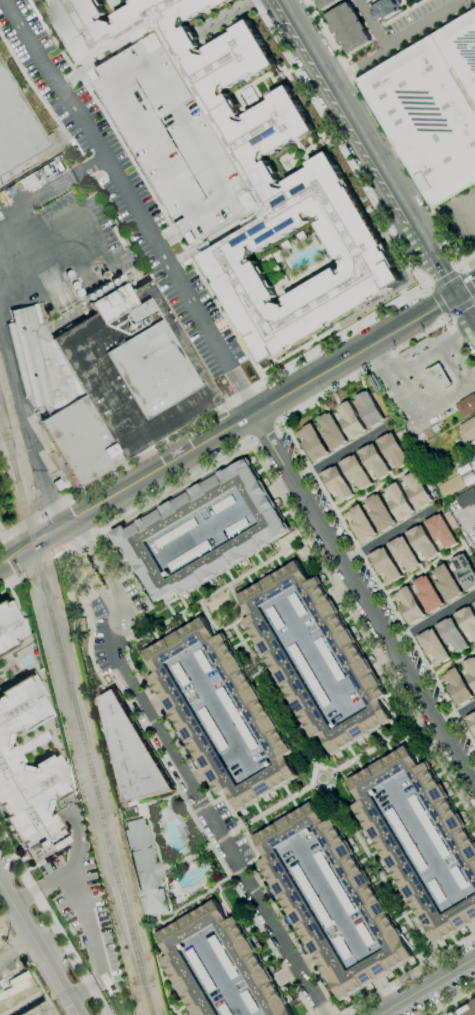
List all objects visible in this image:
building: (374, 0)
building: (217, 1)
building: (368, 1)
road: (263, 3)
building: (326, 3)
road: (286, 4)
road: (404, 5)
building: (384, 9)
road: (398, 14)
road: (370, 24)
building: (349, 28)
road: (326, 37)
road: (398, 40)
road: (34, 90)
building: (431, 108)
road: (352, 114)
building: (16, 127)
building: (177, 135)
parking garage: (177, 135)
road: (346, 145)
road: (408, 174)
building: (257, 176)
road: (49, 184)
road: (148, 190)
road: (131, 205)
road: (466, 213)
road: (435, 257)
road: (7, 265)
road: (460, 266)
road: (443, 278)
road: (466, 284)
silo: (104, 285)
road: (425, 286)
road: (465, 286)
traffic signals: (457, 293)
road: (443, 297)
road: (437, 301)
traffic signals: (446, 301)
road: (460, 307)
road: (465, 308)
road: (445, 319)
road: (457, 320)
road: (352, 328)
road: (461, 333)
road: (470, 347)
road: (433, 348)
road: (384, 357)
road: (449, 366)
building: (439, 375)
building: (109, 378)
gas station: (428, 385)
road: (18, 391)
road: (417, 392)
building: (466, 406)
building: (369, 409)
road: (254, 413)
building: (351, 420)
building: (468, 429)
road: (261, 430)
building: (331, 431)
railway: (8, 439)
road: (249, 440)
building: (312, 442)
railway: (8, 448)
building: (393, 449)
building: (457, 451)
flagpole: (108, 452)
road: (338, 455)
building: (374, 461)
road: (194, 469)
building: (355, 472)
building: (337, 484)
road: (279, 486)
building: (452, 486)
road: (373, 491)
building: (417, 491)
road: (50, 498)
building: (467, 498)
road: (259, 499)
building: (399, 502)
building: (225, 505)
road: (143, 506)
building: (380, 512)
road: (468, 518)
building: (361, 523)
building: (238, 527)
road: (206, 530)
building: (138, 531)
building: (441, 531)
road: (2, 532)
building: (177, 534)
road: (387, 536)
building: (422, 542)
road: (35, 545)
road: (12, 546)
building: (403, 553)
building: (190, 556)
road: (9, 560)
building: (385, 565)
road: (100, 570)
road: (421, 570)
building: (464, 572)
road: (19, 578)
road: (89, 579)
building: (447, 583)
road: (377, 584)
road: (338, 585)
road: (10, 592)
road: (215, 593)
building: (428, 594)
road: (363, 600)
building: (474, 604)
building: (408, 605)
building: (298, 606)
building: (277, 618)
road: (432, 620)
building: (467, 621)
building: (79, 624)
road: (230, 624)
building: (8, 625)
road: (362, 631)
building: (452, 634)
building: (270, 645)
building: (433, 647)
road: (313, 656)
building: (330, 659)
building: (204, 661)
road: (452, 661)
road: (384, 664)
building: (470, 671)
building: (182, 674)
building: (310, 676)
road: (363, 676)
road: (344, 686)
building: (457, 686)
road: (273, 695)
road: (154, 702)
road: (220, 713)
road: (456, 715)
building: (238, 719)
building: (471, 721)
building: (264, 725)
building: (214, 729)
railway: (83, 743)
road: (376, 746)
building: (132, 753)
road: (232, 755)
road: (214, 766)
road: (336, 771)
road: (197, 775)
road: (194, 776)
building: (28, 778)
road: (170, 779)
road: (200, 807)
road: (268, 810)
road: (212, 819)
building: (430, 826)
road: (218, 840)
building: (407, 841)
road: (424, 843)
building: (392, 851)
building: (145, 868)
road: (237, 870)
road: (68, 873)
building: (460, 880)
building: (336, 884)
road: (384, 884)
building: (438, 891)
building: (313, 897)
building: (367, 898)
road: (331, 902)
road: (466, 913)
road: (53, 924)
road: (87, 924)
road: (473, 925)
building: (366, 935)
building: (344, 949)
road: (38, 950)
building: (225, 957)
building: (247, 957)
road: (293, 968)
road: (372, 969)
building: (202, 970)
road: (408, 974)
road: (220, 976)
road: (425, 985)
road: (84, 987)
road: (384, 991)
road: (451, 1001)
building: (251, 1002)
building: (34, 1008)
building: (226, 1010)
building: (467, 1010)

